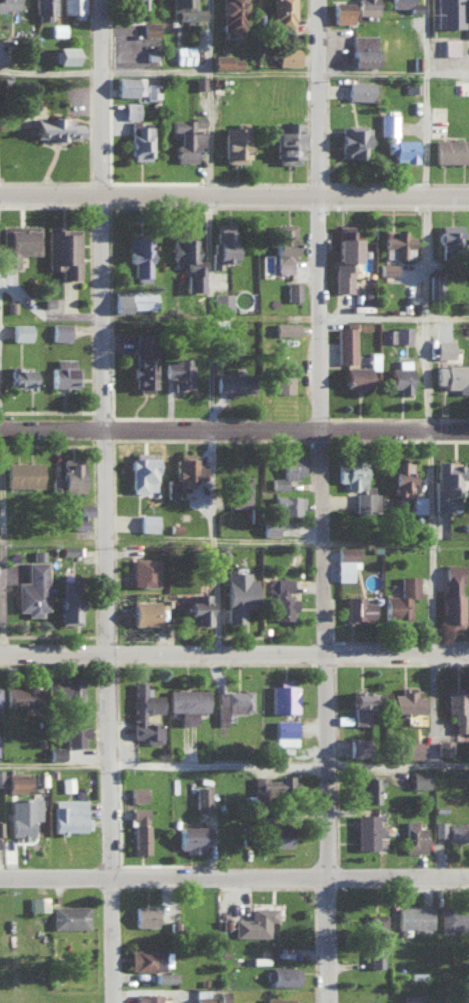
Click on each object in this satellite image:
building: (8, 4)
building: (408, 4)
building: (72, 6)
building: (367, 6)
building: (44, 9)
building: (136, 9)
building: (185, 10)
building: (342, 11)
building: (282, 12)
building: (449, 13)
building: (232, 15)
building: (150, 27)
building: (450, 45)
building: (363, 49)
building: (184, 53)
building: (66, 54)
building: (288, 55)
building: (225, 61)
road: (234, 73)
building: (129, 85)
building: (460, 86)
building: (152, 90)
building: (360, 90)
road: (4, 96)
road: (112, 96)
road: (325, 96)
building: (131, 109)
building: (56, 127)
building: (187, 138)
building: (396, 139)
building: (354, 140)
building: (287, 141)
building: (141, 142)
building: (235, 142)
building: (451, 150)
road: (234, 192)
road: (205, 214)
building: (450, 234)
building: (19, 242)
building: (222, 243)
building: (396, 243)
building: (284, 246)
building: (63, 250)
building: (140, 256)
building: (344, 256)
building: (188, 262)
building: (387, 268)
building: (435, 284)
building: (293, 290)
building: (134, 300)
building: (222, 301)
road: (3, 309)
road: (392, 316)
building: (286, 328)
building: (20, 331)
building: (60, 331)
building: (402, 333)
building: (386, 334)
building: (345, 343)
building: (443, 348)
building: (373, 359)
building: (144, 360)
building: (178, 371)
building: (63, 372)
building: (21, 376)
building: (356, 376)
building: (401, 376)
building: (453, 376)
building: (282, 378)
building: (233, 382)
road: (426, 382)
road: (234, 429)
building: (289, 469)
building: (143, 471)
building: (351, 471)
building: (23, 473)
building: (185, 473)
building: (68, 476)
building: (401, 479)
building: (448, 484)
building: (240, 490)
building: (367, 502)
building: (287, 504)
building: (417, 504)
building: (83, 515)
building: (147, 522)
building: (269, 528)
road: (267, 538)
road: (1, 539)
road: (213, 541)
building: (346, 562)
building: (143, 571)
building: (33, 589)
building: (239, 593)
building: (452, 596)
building: (281, 597)
road: (322, 597)
road: (105, 598)
building: (401, 598)
building: (69, 602)
building: (198, 607)
building: (359, 608)
building: (144, 612)
road: (234, 655)
building: (65, 688)
building: (17, 695)
building: (283, 695)
building: (407, 700)
building: (187, 702)
building: (232, 702)
building: (361, 706)
building: (458, 707)
building: (137, 715)
building: (285, 731)
building: (72, 732)
building: (444, 745)
building: (359, 746)
building: (411, 748)
building: (55, 753)
road: (234, 765)
building: (1, 776)
building: (419, 778)
building: (19, 780)
building: (272, 782)
building: (370, 786)
building: (137, 792)
building: (202, 795)
building: (69, 814)
building: (21, 815)
building: (438, 827)
building: (140, 828)
building: (367, 828)
building: (458, 830)
building: (278, 834)
building: (193, 836)
building: (413, 836)
road: (234, 877)
building: (38, 901)
building: (145, 914)
building: (69, 915)
building: (413, 916)
building: (454, 917)
building: (255, 921)
building: (375, 934)
building: (146, 958)
building: (283, 974)
building: (165, 975)
building: (147, 997)
building: (412, 997)
building: (202, 999)
building: (278, 999)

